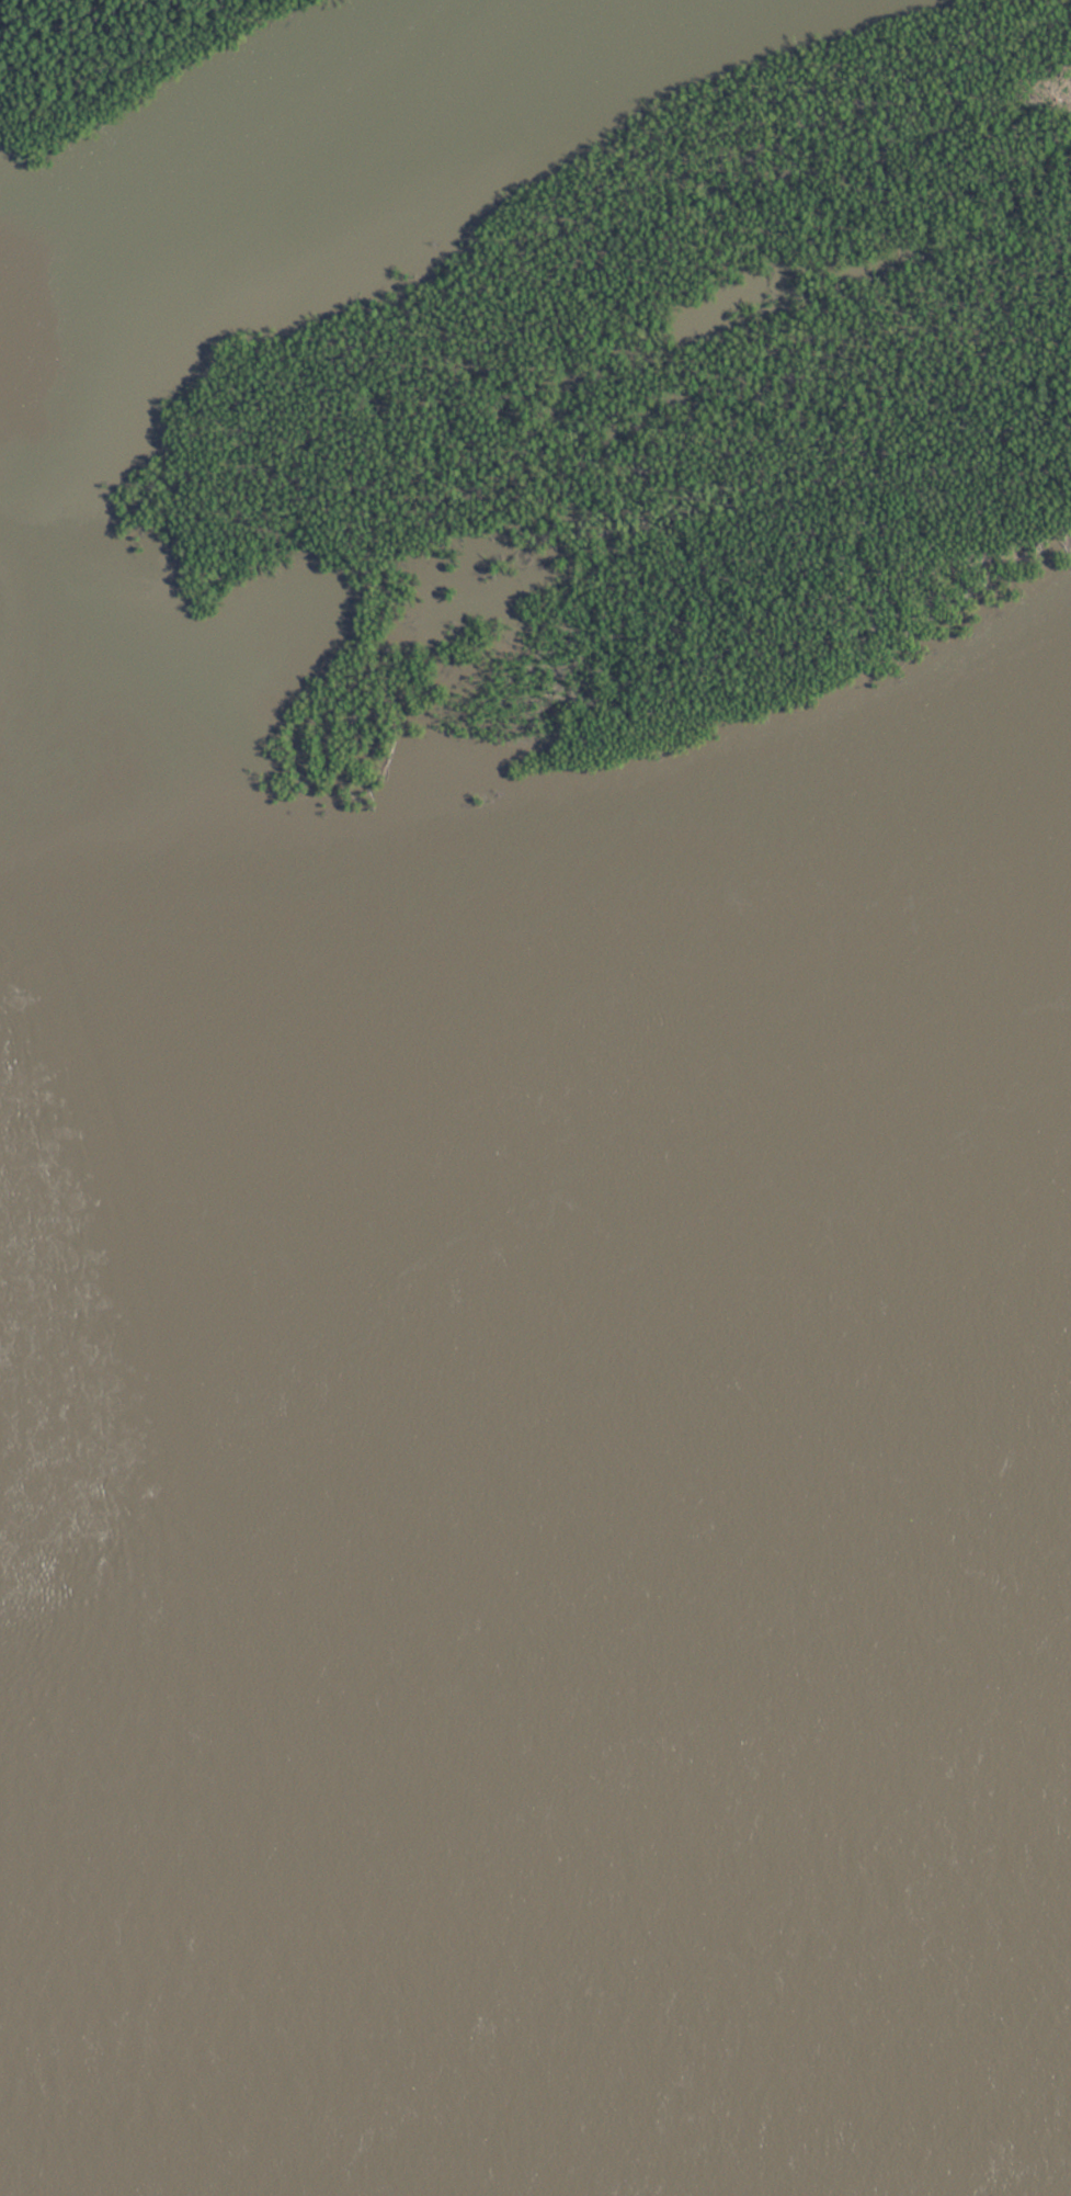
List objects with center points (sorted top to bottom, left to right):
river: (545, 2057)

